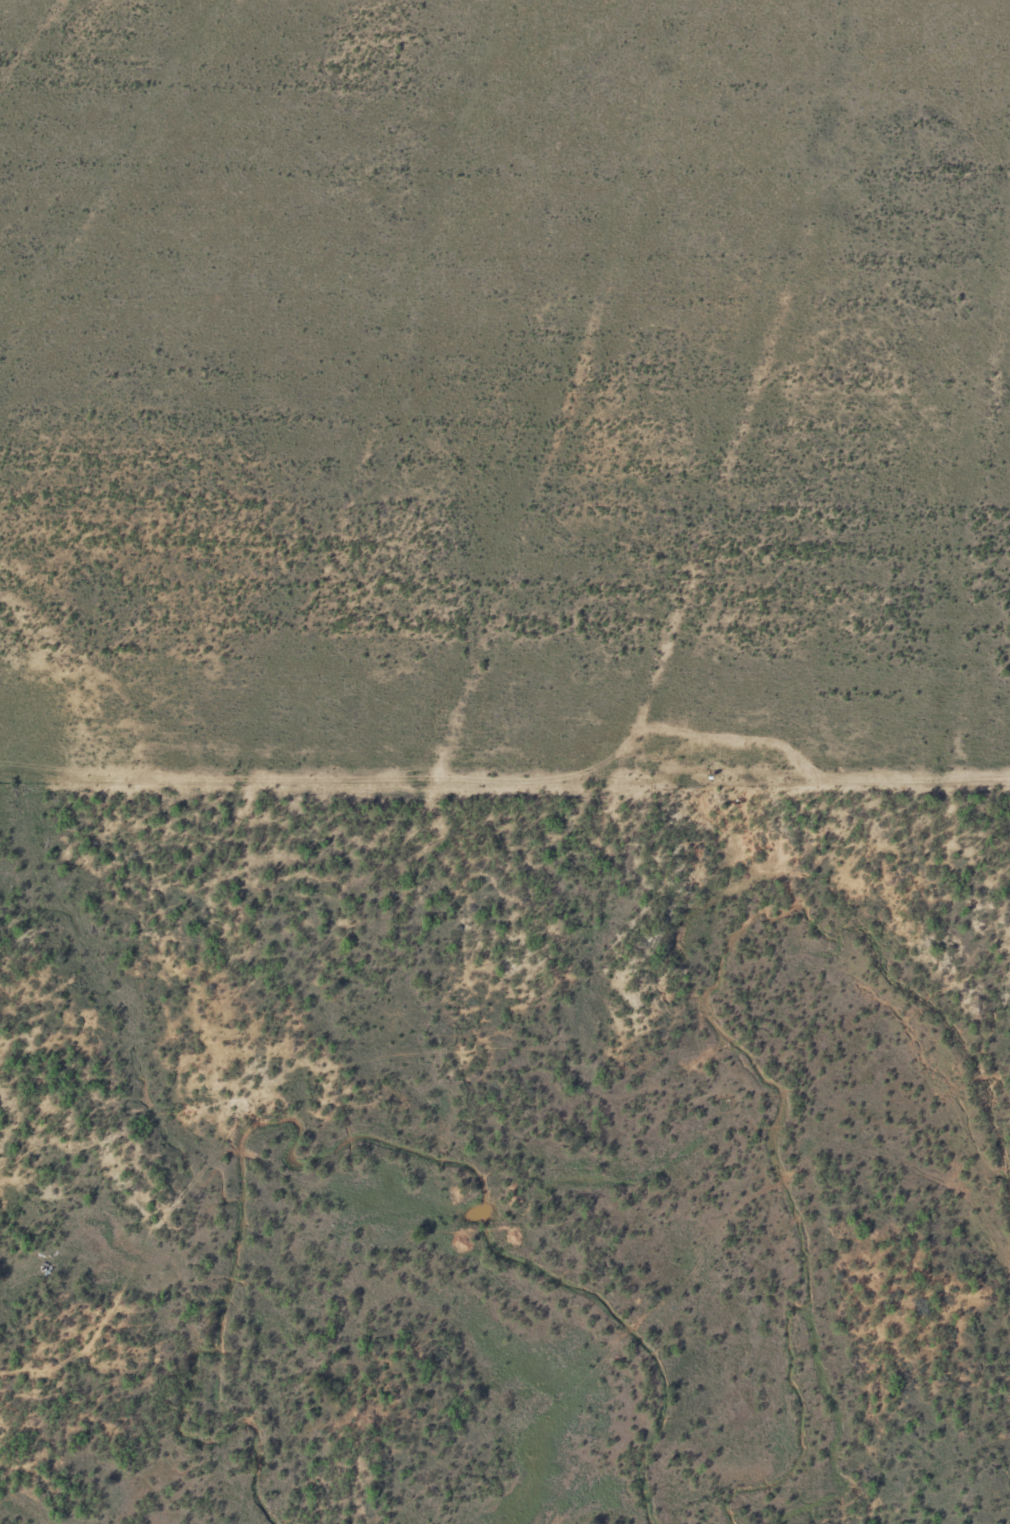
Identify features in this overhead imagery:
road: (506, 814)

